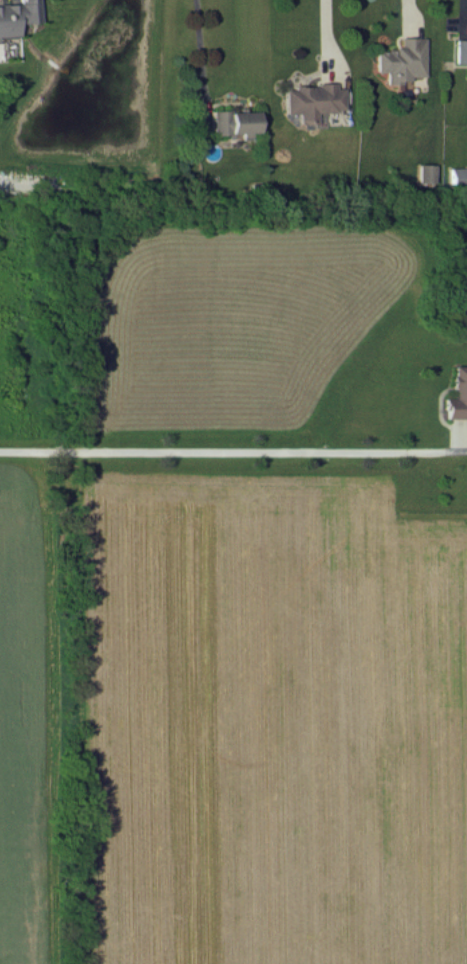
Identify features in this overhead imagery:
building: (15, 15)
road: (326, 32)
road: (197, 47)
building: (459, 49)
building: (399, 59)
building: (310, 99)
building: (424, 172)
building: (456, 175)
building: (457, 393)
road: (232, 450)

